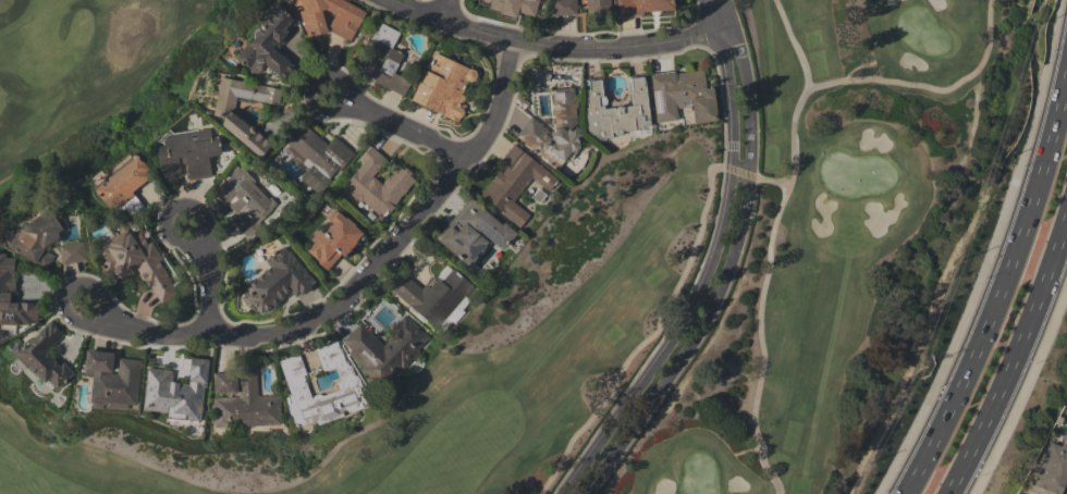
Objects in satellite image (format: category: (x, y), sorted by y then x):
building: (597, 5)
building: (513, 7)
building: (565, 7)
building: (645, 7)
road: (442, 9)
road: (720, 14)
building: (331, 17)
road: (794, 42)
building: (268, 45)
road: (555, 45)
building: (384, 61)
park: (78, 67)
building: (444, 86)
road: (930, 87)
road: (311, 88)
building: (682, 96)
building: (616, 109)
building: (226, 115)
road: (405, 128)
building: (555, 129)
building: (187, 153)
building: (316, 157)
building: (123, 183)
building: (378, 183)
building: (514, 184)
building: (245, 200)
road: (175, 209)
building: (473, 232)
building: (38, 237)
building: (333, 239)
building: (72, 252)
road: (989, 254)
building: (137, 262)
road: (363, 277)
road: (724, 277)
road: (702, 280)
building: (277, 282)
road: (1004, 282)
road: (210, 285)
road: (762, 289)
park: (692, 291)
road: (68, 293)
building: (433, 294)
building: (4, 295)
building: (383, 349)
building: (42, 356)
road: (1016, 359)
building: (112, 378)
building: (296, 385)
road: (1022, 388)
building: (175, 392)
building: (242, 400)
building: (1052, 469)

